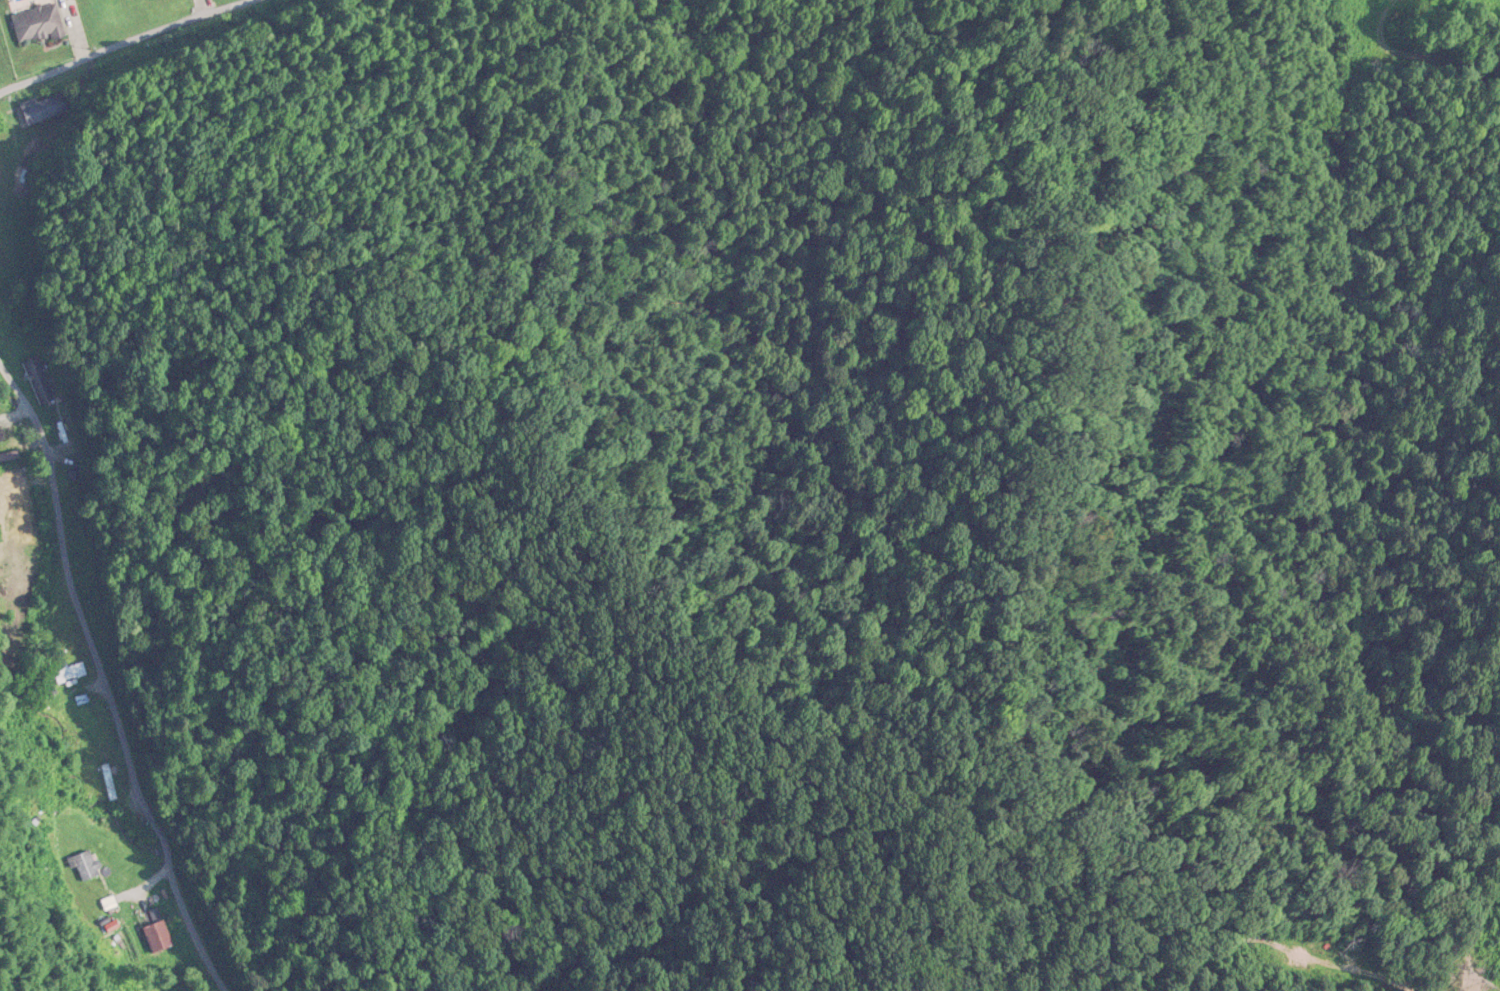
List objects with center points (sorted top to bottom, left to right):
building: (54, 0)
building: (37, 26)
road: (140, 53)
building: (43, 109)
road: (95, 699)
road: (1391, 962)

